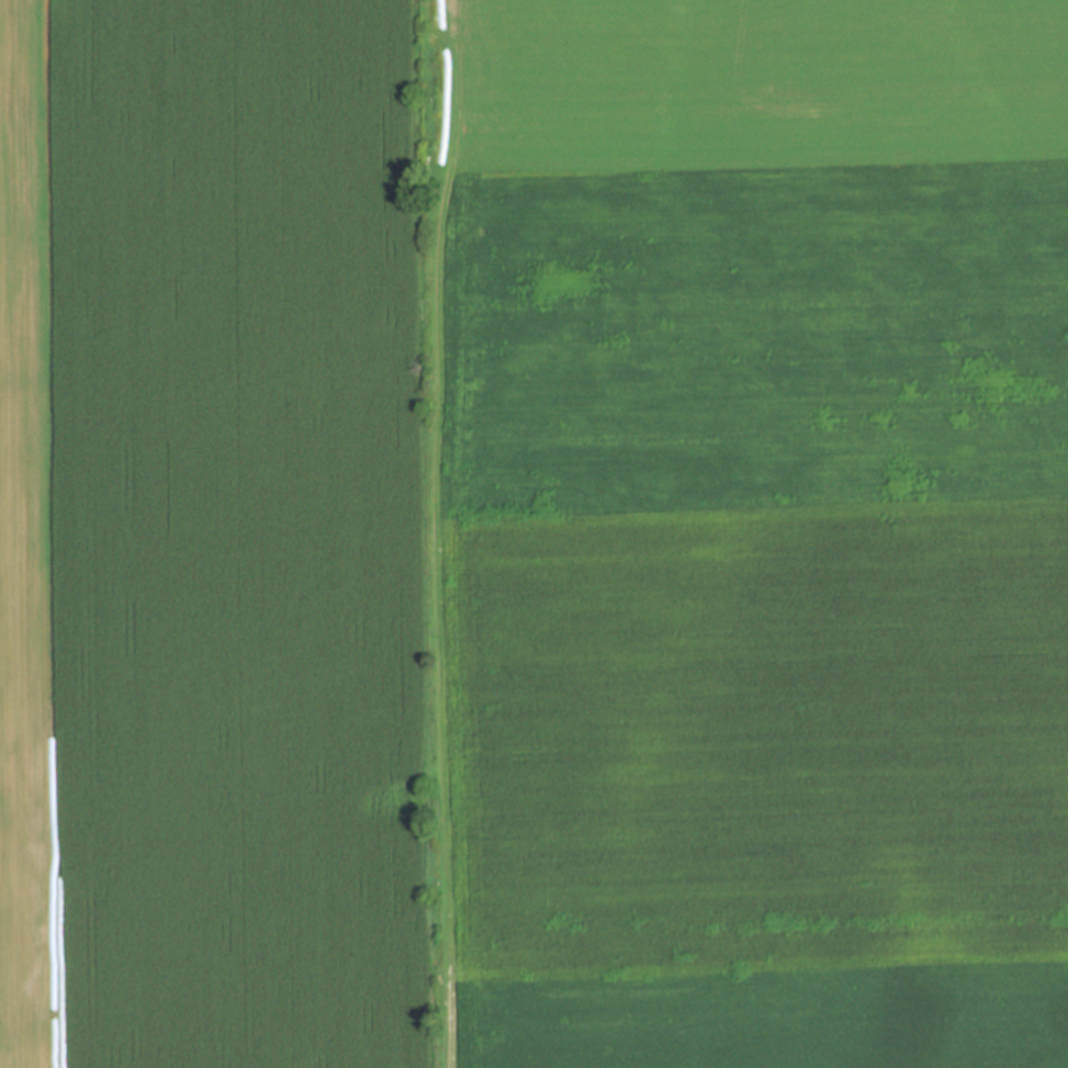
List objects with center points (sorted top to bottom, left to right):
road: (437, 656)

